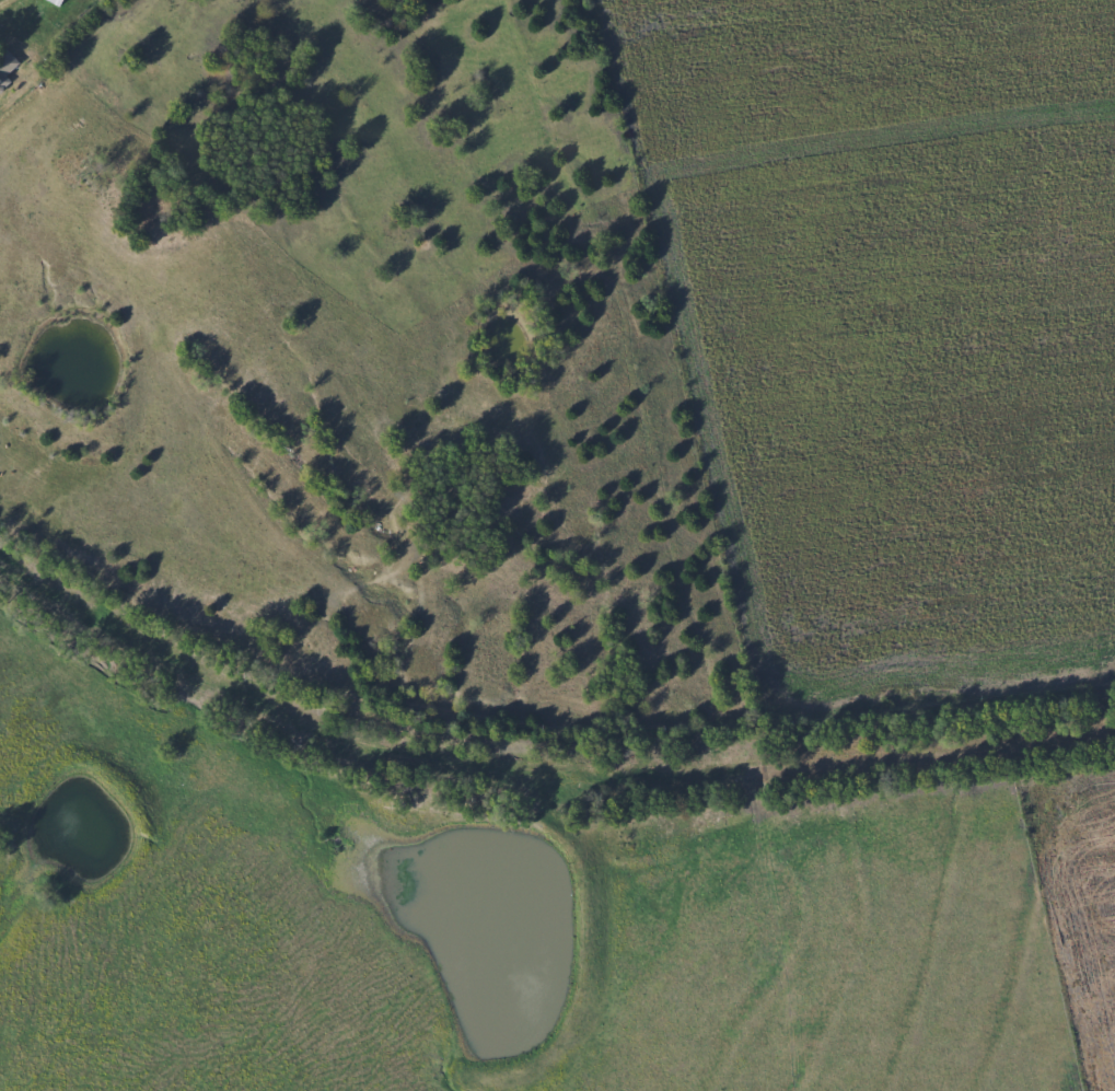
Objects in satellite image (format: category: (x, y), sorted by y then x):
building: (51, 2)
building: (5, 62)

